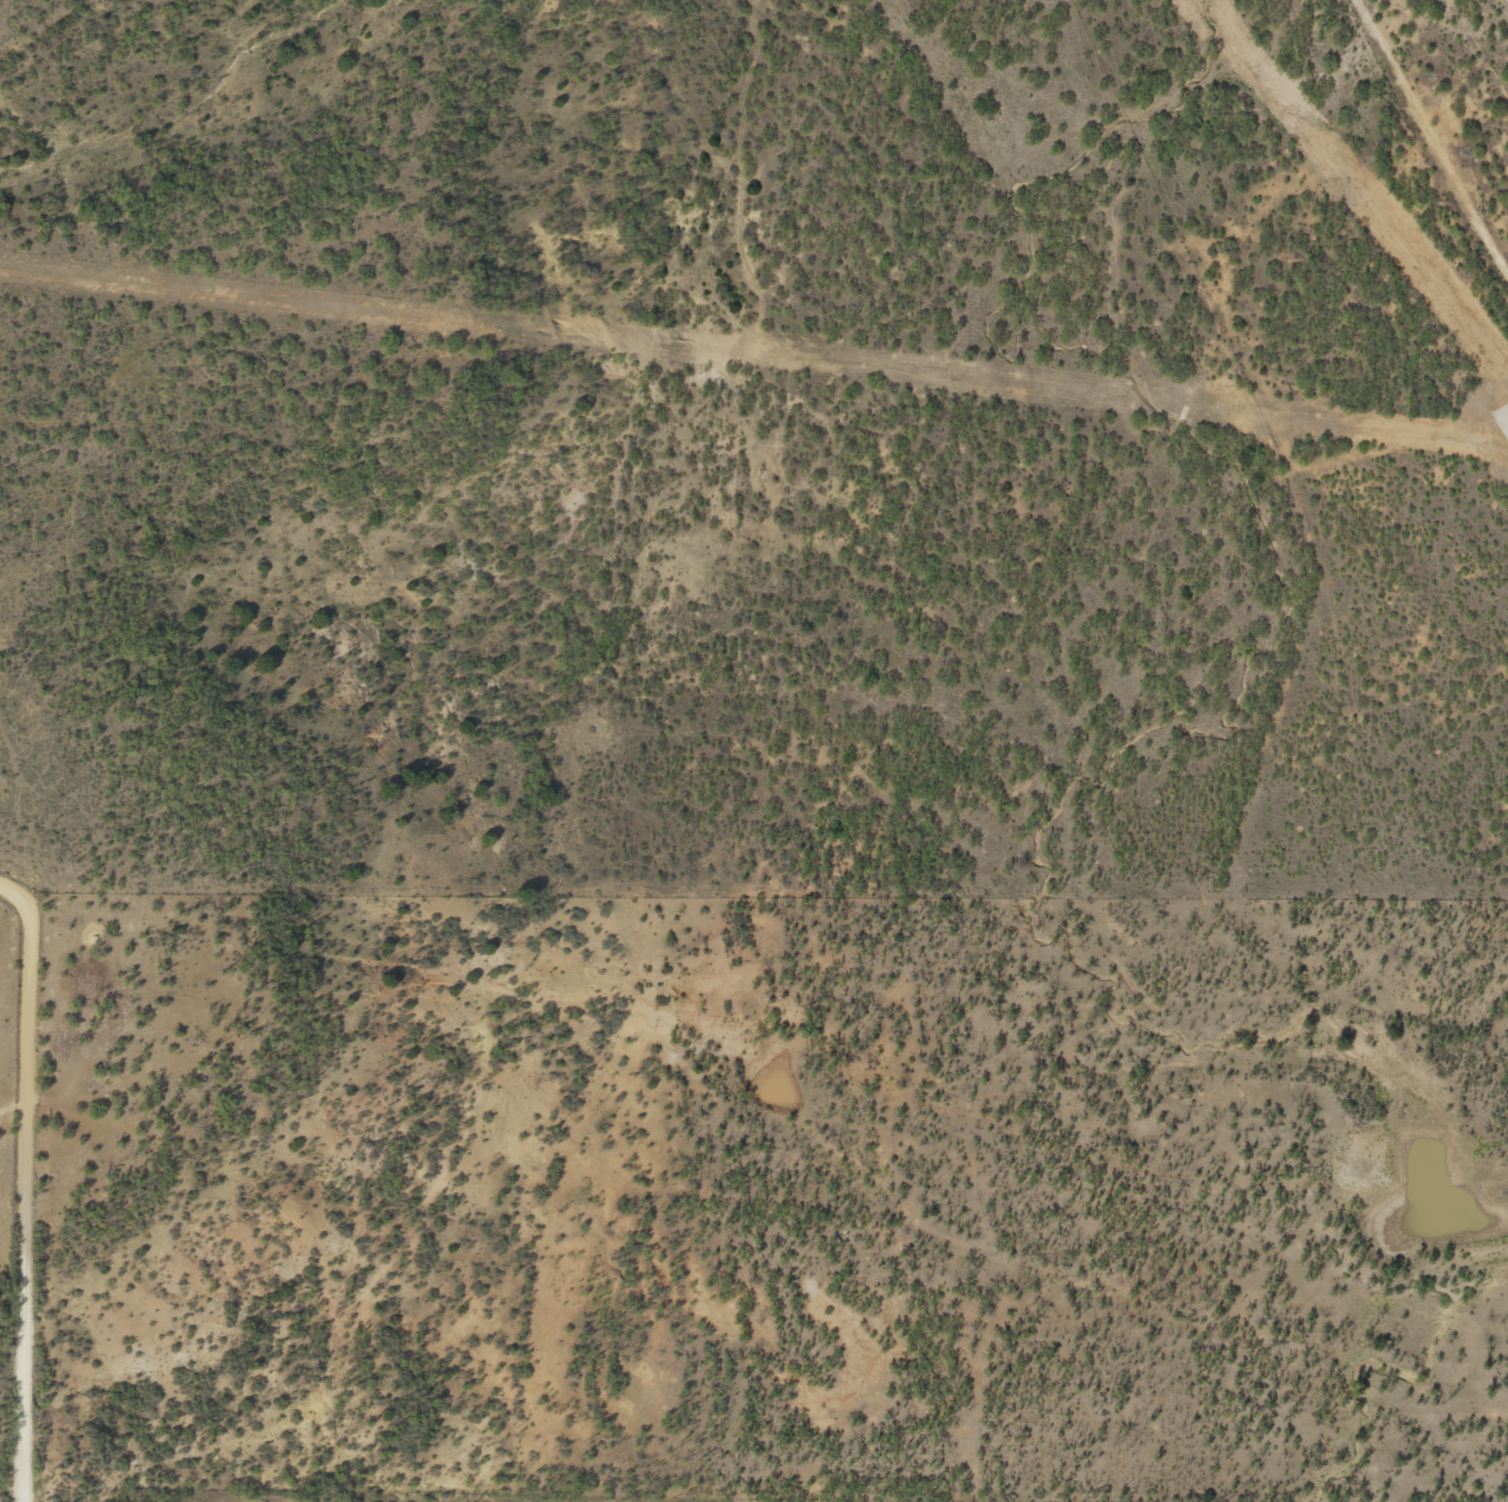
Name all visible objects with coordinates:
road: (1423, 159)
road: (2, 1212)
road: (843, 1214)
road: (901, 1218)
road: (1, 1252)
road: (1062, 1283)
road: (999, 1364)

